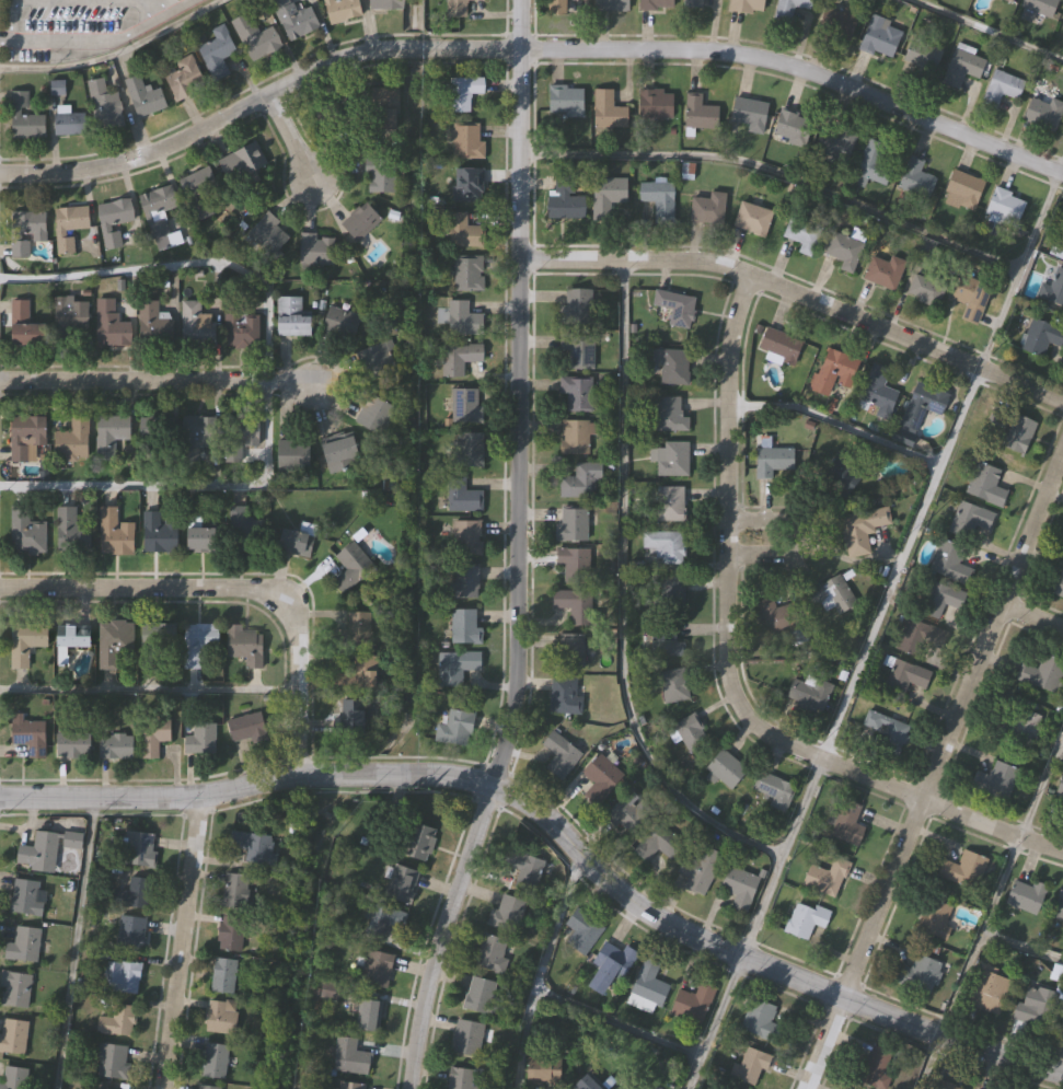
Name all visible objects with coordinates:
building: (1010, 0)
road: (172, 1)
road: (163, 2)
building: (385, 4)
building: (691, 4)
building: (612, 5)
building: (656, 5)
building: (556, 7)
building: (747, 7)
building: (455, 8)
building: (790, 8)
building: (1040, 8)
building: (342, 10)
building: (293, 20)
building: (840, 23)
road: (986, 32)
building: (254, 38)
road: (3, 39)
building: (879, 42)
road: (530, 49)
road: (115, 51)
building: (217, 51)
building: (922, 56)
building: (961, 68)
building: (185, 79)
building: (1002, 89)
building: (463, 93)
building: (143, 99)
building: (566, 102)
building: (319, 105)
building: (656, 105)
building: (104, 108)
building: (385, 111)
building: (608, 111)
building: (700, 115)
building: (1044, 115)
building: (749, 116)
building: (23, 118)
building: (69, 123)
building: (793, 129)
road: (292, 138)
building: (466, 143)
building: (835, 146)
building: (874, 164)
building: (240, 171)
road: (776, 174)
building: (380, 176)
building: (916, 179)
building: (470, 186)
building: (964, 189)
building: (197, 193)
building: (608, 198)
building: (566, 200)
building: (158, 201)
building: (656, 202)
building: (707, 209)
building: (1004, 209)
building: (752, 220)
building: (113, 221)
building: (362, 223)
building: (68, 227)
building: (26, 231)
building: (463, 232)
building: (802, 234)
building: (267, 235)
building: (315, 252)
building: (844, 252)
building: (1062, 255)
building: (883, 271)
building: (469, 274)
building: (1052, 290)
building: (925, 291)
road: (797, 293)
building: (971, 300)
building: (577, 308)
building: (678, 309)
building: (69, 315)
building: (292, 318)
building: (463, 320)
building: (152, 324)
building: (342, 324)
building: (196, 325)
building: (24, 326)
building: (109, 326)
building: (240, 327)
building: (1041, 338)
building: (779, 347)
building: (578, 351)
building: (459, 359)
building: (379, 362)
building: (672, 366)
building: (834, 372)
road: (152, 380)
road: (265, 381)
building: (878, 394)
building: (577, 395)
building: (466, 407)
building: (922, 407)
building: (373, 415)
building: (670, 416)
road: (835, 424)
building: (241, 432)
building: (1018, 433)
building: (109, 436)
building: (195, 436)
building: (577, 437)
building: (153, 438)
building: (27, 440)
building: (71, 442)
building: (469, 450)
building: (339, 454)
building: (290, 455)
building: (671, 460)
building: (773, 462)
building: (579, 482)
building: (985, 486)
building: (463, 498)
building: (670, 506)
building: (972, 521)
building: (571, 526)
building: (860, 529)
building: (28, 532)
building: (70, 532)
building: (158, 533)
building: (115, 534)
building: (244, 534)
building: (466, 538)
road: (800, 540)
building: (205, 541)
building: (296, 544)
building: (665, 547)
road: (515, 552)
building: (950, 564)
building: (574, 565)
building: (351, 568)
building: (465, 582)
road: (230, 587)
building: (1060, 587)
building: (671, 595)
road: (621, 596)
building: (833, 596)
building: (940, 601)
building: (574, 606)
building: (776, 617)
road: (1031, 617)
road: (875, 625)
building: (464, 628)
building: (358, 630)
building: (73, 638)
building: (920, 639)
building: (667, 641)
building: (25, 644)
building: (113, 644)
building: (198, 644)
building: (159, 645)
building: (246, 648)
building: (568, 652)
building: (457, 668)
road: (724, 670)
building: (362, 674)
building: (1043, 674)
building: (905, 679)
building: (674, 687)
road: (148, 690)
building: (565, 694)
building: (809, 696)
building: (353, 718)
road: (951, 720)
building: (246, 727)
building: (1025, 727)
building: (885, 729)
building: (455, 730)
building: (691, 734)
building: (153, 737)
building: (30, 738)
road: (1061, 739)
building: (200, 741)
building: (73, 746)
building: (116, 748)
building: (559, 755)
building: (726, 769)
road: (451, 775)
building: (600, 779)
building: (995, 781)
building: (1061, 790)
building: (775, 791)
building: (629, 816)
building: (845, 821)
building: (419, 843)
building: (658, 844)
building: (254, 847)
building: (46, 850)
building: (139, 850)
building: (523, 870)
building: (701, 870)
building: (963, 870)
building: (827, 878)
building: (402, 885)
building: (741, 888)
building: (234, 892)
building: (132, 895)
building: (1027, 896)
building: (25, 899)
building: (1059, 907)
road: (990, 908)
building: (507, 914)
building: (935, 919)
building: (805, 920)
building: (385, 922)
building: (581, 932)
building: (130, 934)
building: (231, 934)
road: (180, 941)
road: (74, 942)
building: (23, 946)
road: (1021, 948)
building: (492, 953)
building: (610, 966)
building: (377, 969)
road: (541, 969)
building: (920, 974)
building: (1056, 974)
building: (223, 976)
building: (120, 977)
building: (648, 987)
building: (14, 989)
building: (987, 992)
building: (481, 996)
building: (693, 1004)
building: (1035, 1007)
building: (369, 1016)
building: (221, 1019)
building: (116, 1021)
building: (762, 1022)
building: (1060, 1022)
road: (617, 1026)
building: (12, 1036)
road: (949, 1038)
building: (467, 1039)
road: (820, 1042)
building: (350, 1057)
building: (215, 1061)
building: (112, 1062)
building: (753, 1067)
building: (874, 1069)
building: (545, 1076)
building: (13, 1078)
building: (463, 1079)
building: (588, 1084)
building: (943, 1085)
building: (350, 1086)
building: (205, 1087)
building: (105, 1088)
building: (730, 1088)
building: (732, 1088)

